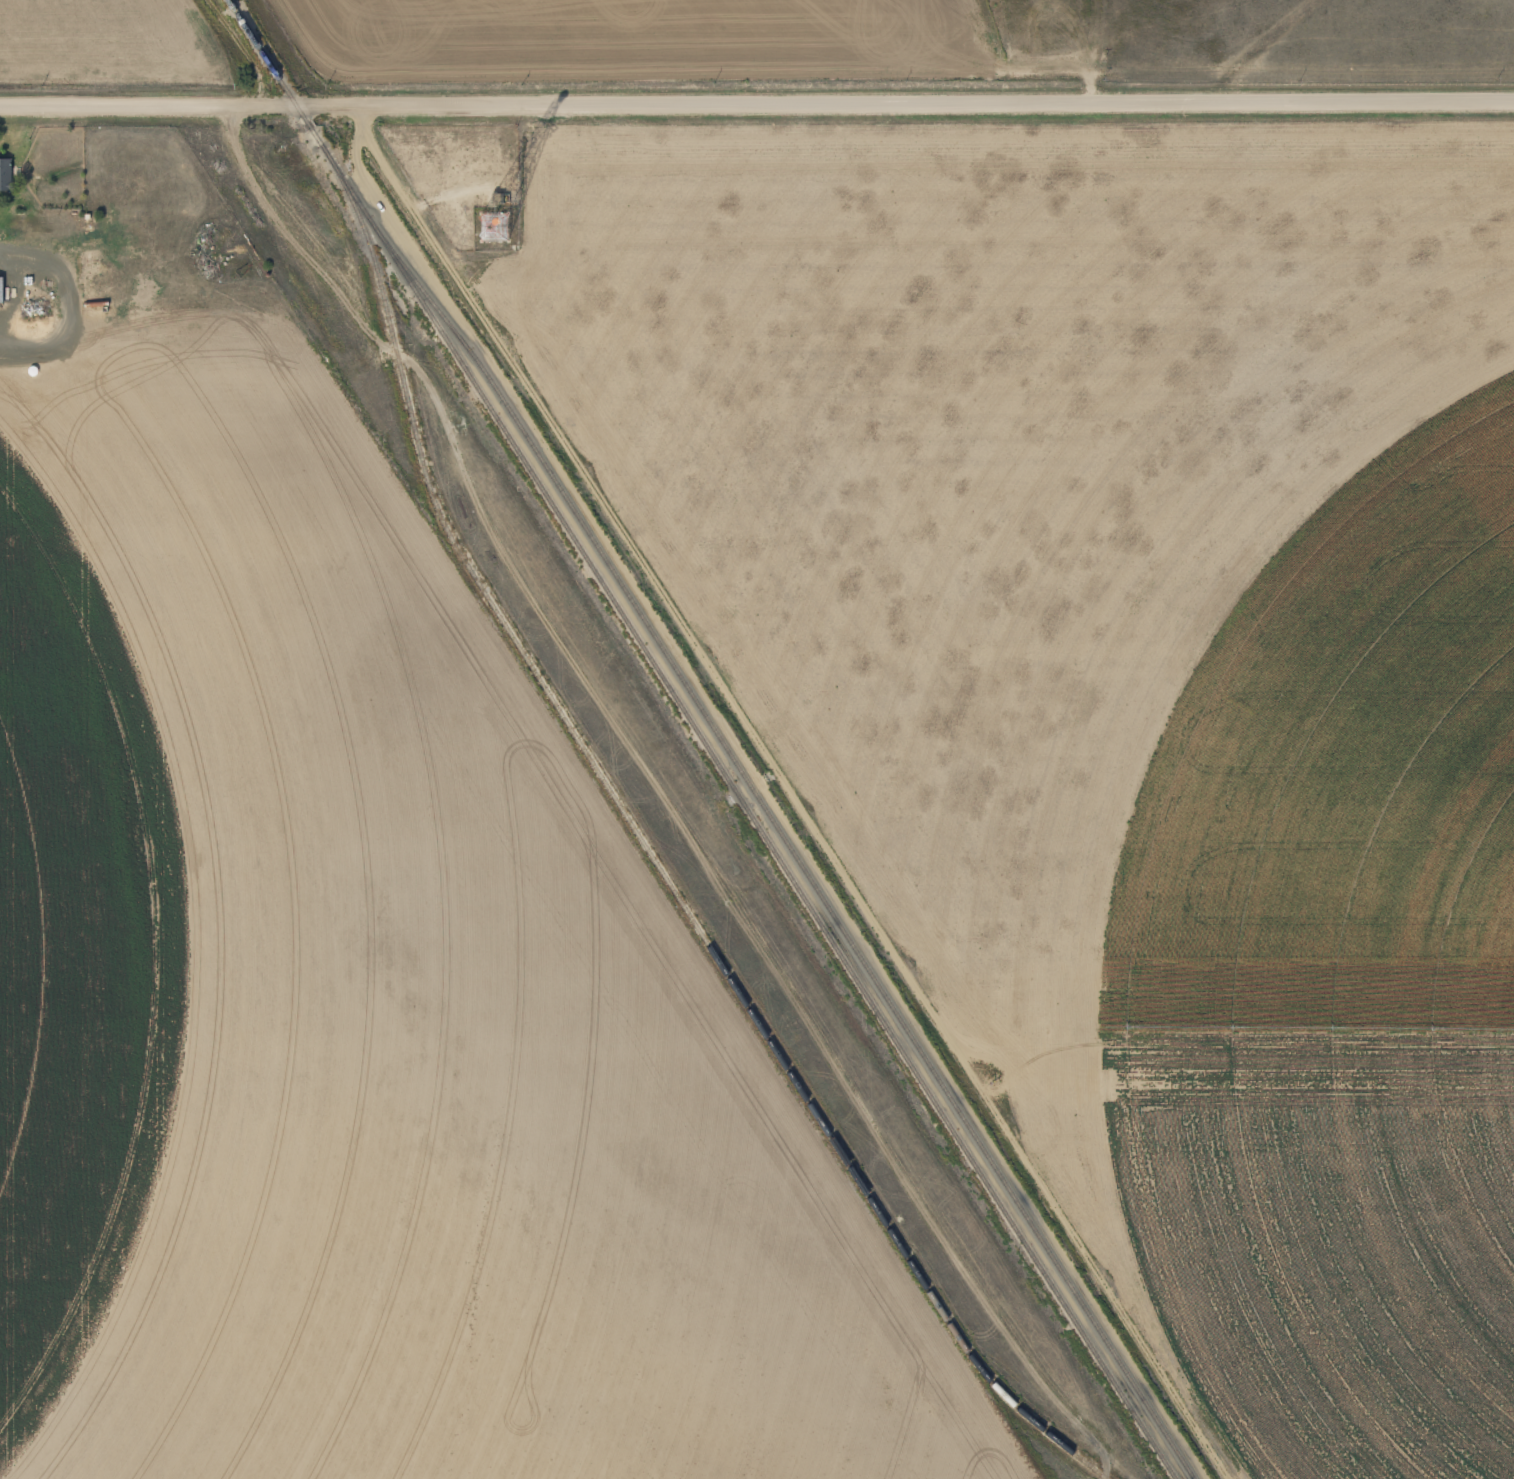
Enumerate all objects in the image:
road: (904, 101)
road: (147, 105)
railway: (701, 739)
railway: (789, 842)
railway: (646, 849)

